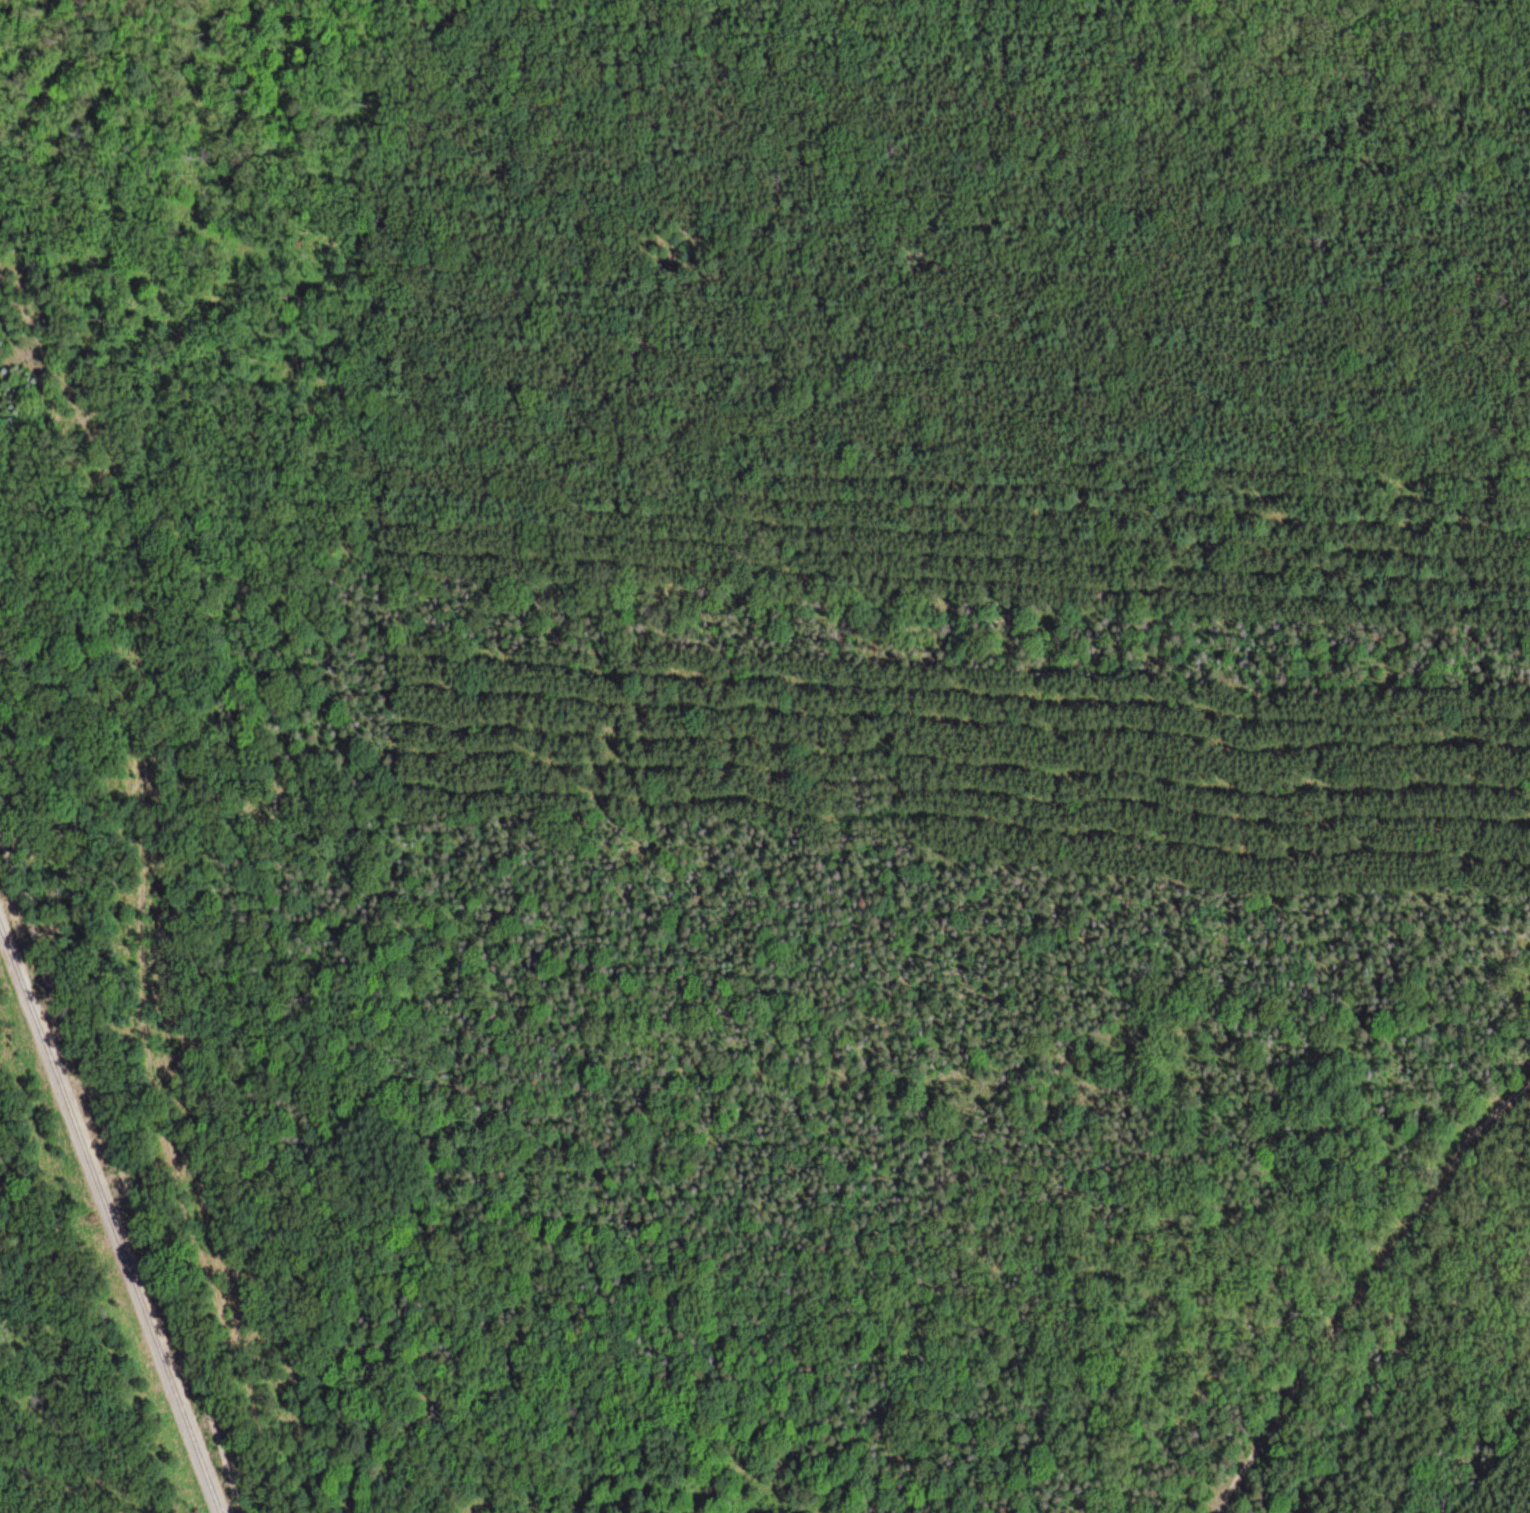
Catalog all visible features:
road: (139, 1016)
railway: (109, 1220)
road: (1364, 1287)

